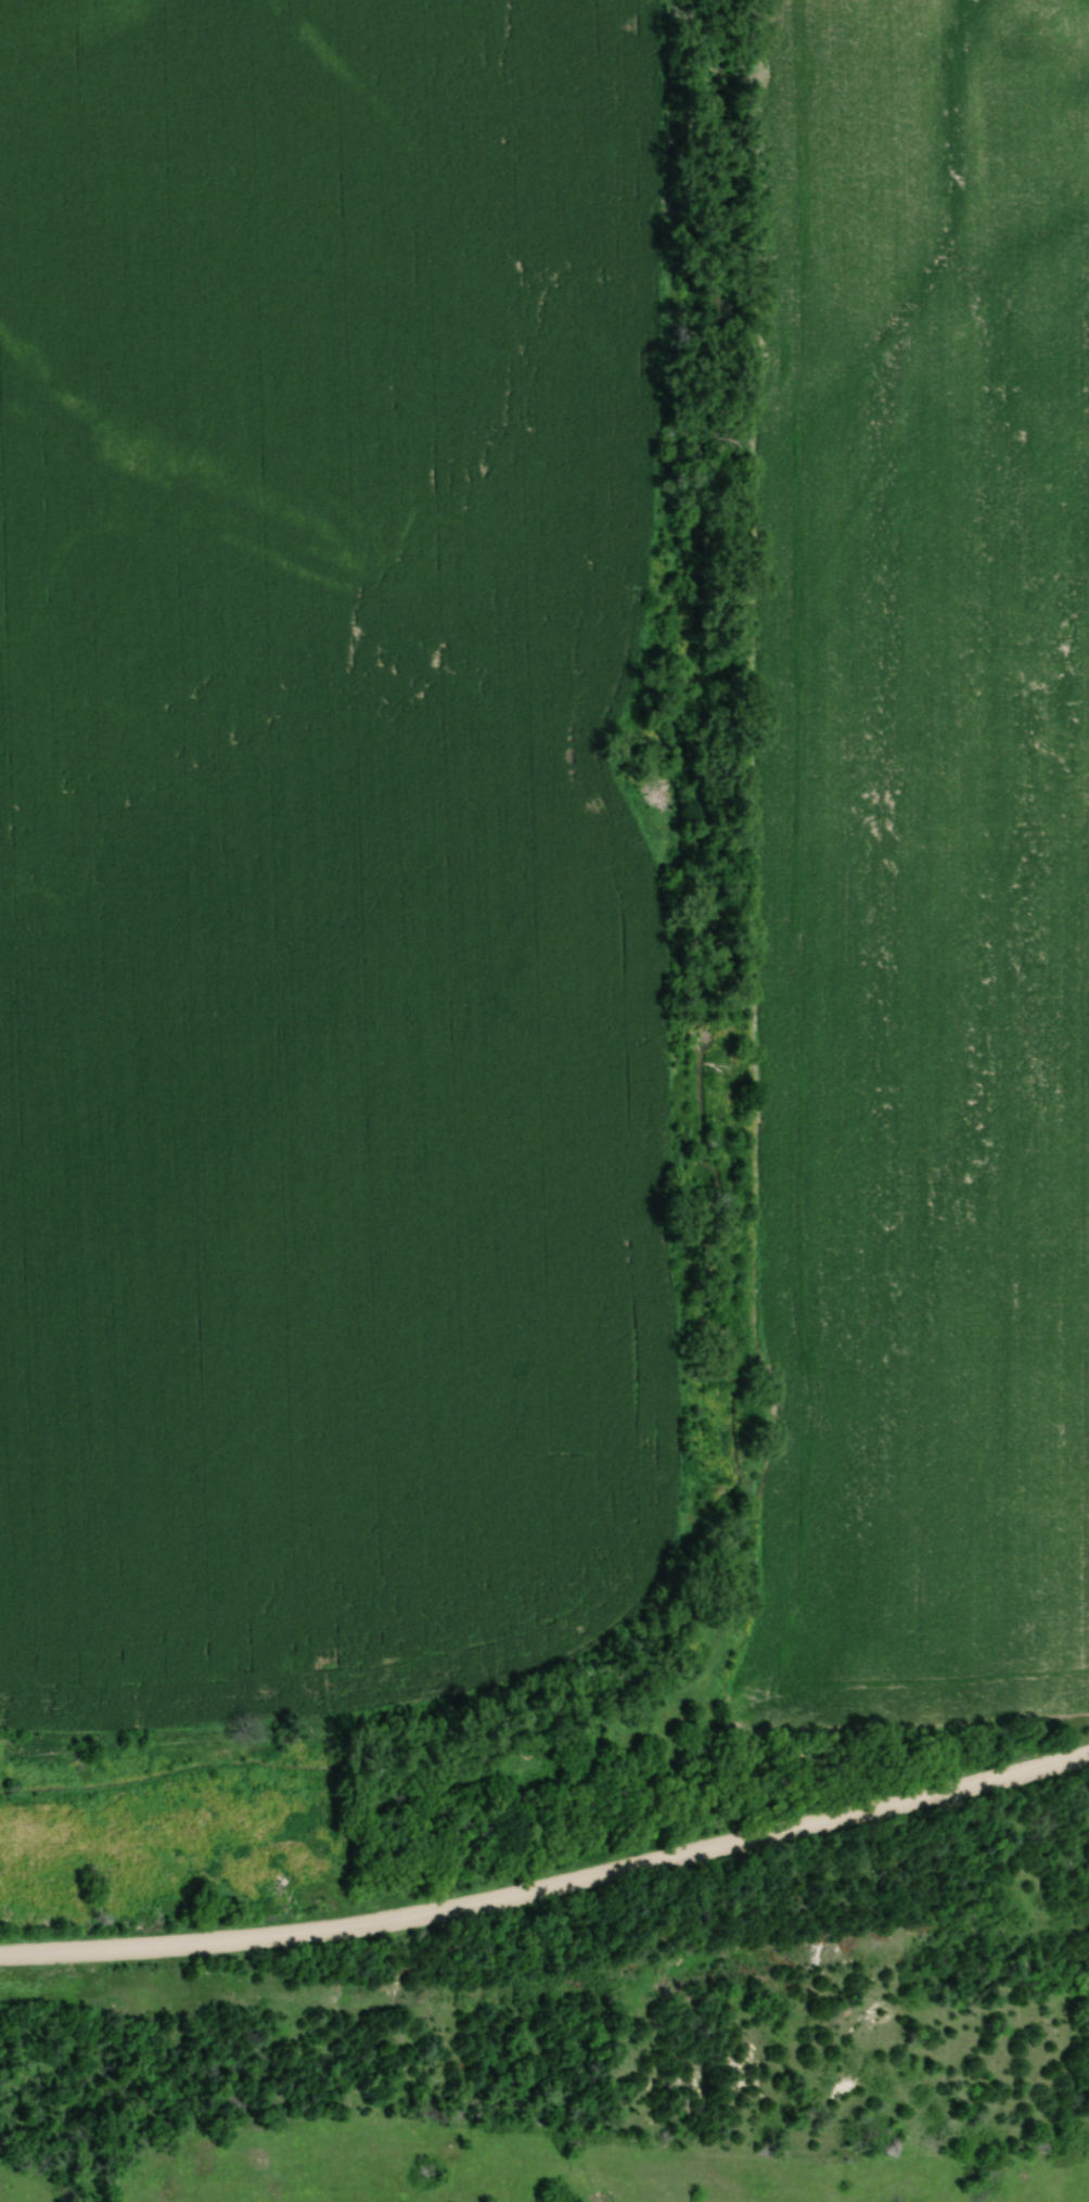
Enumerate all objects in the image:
road: (551, 1892)

